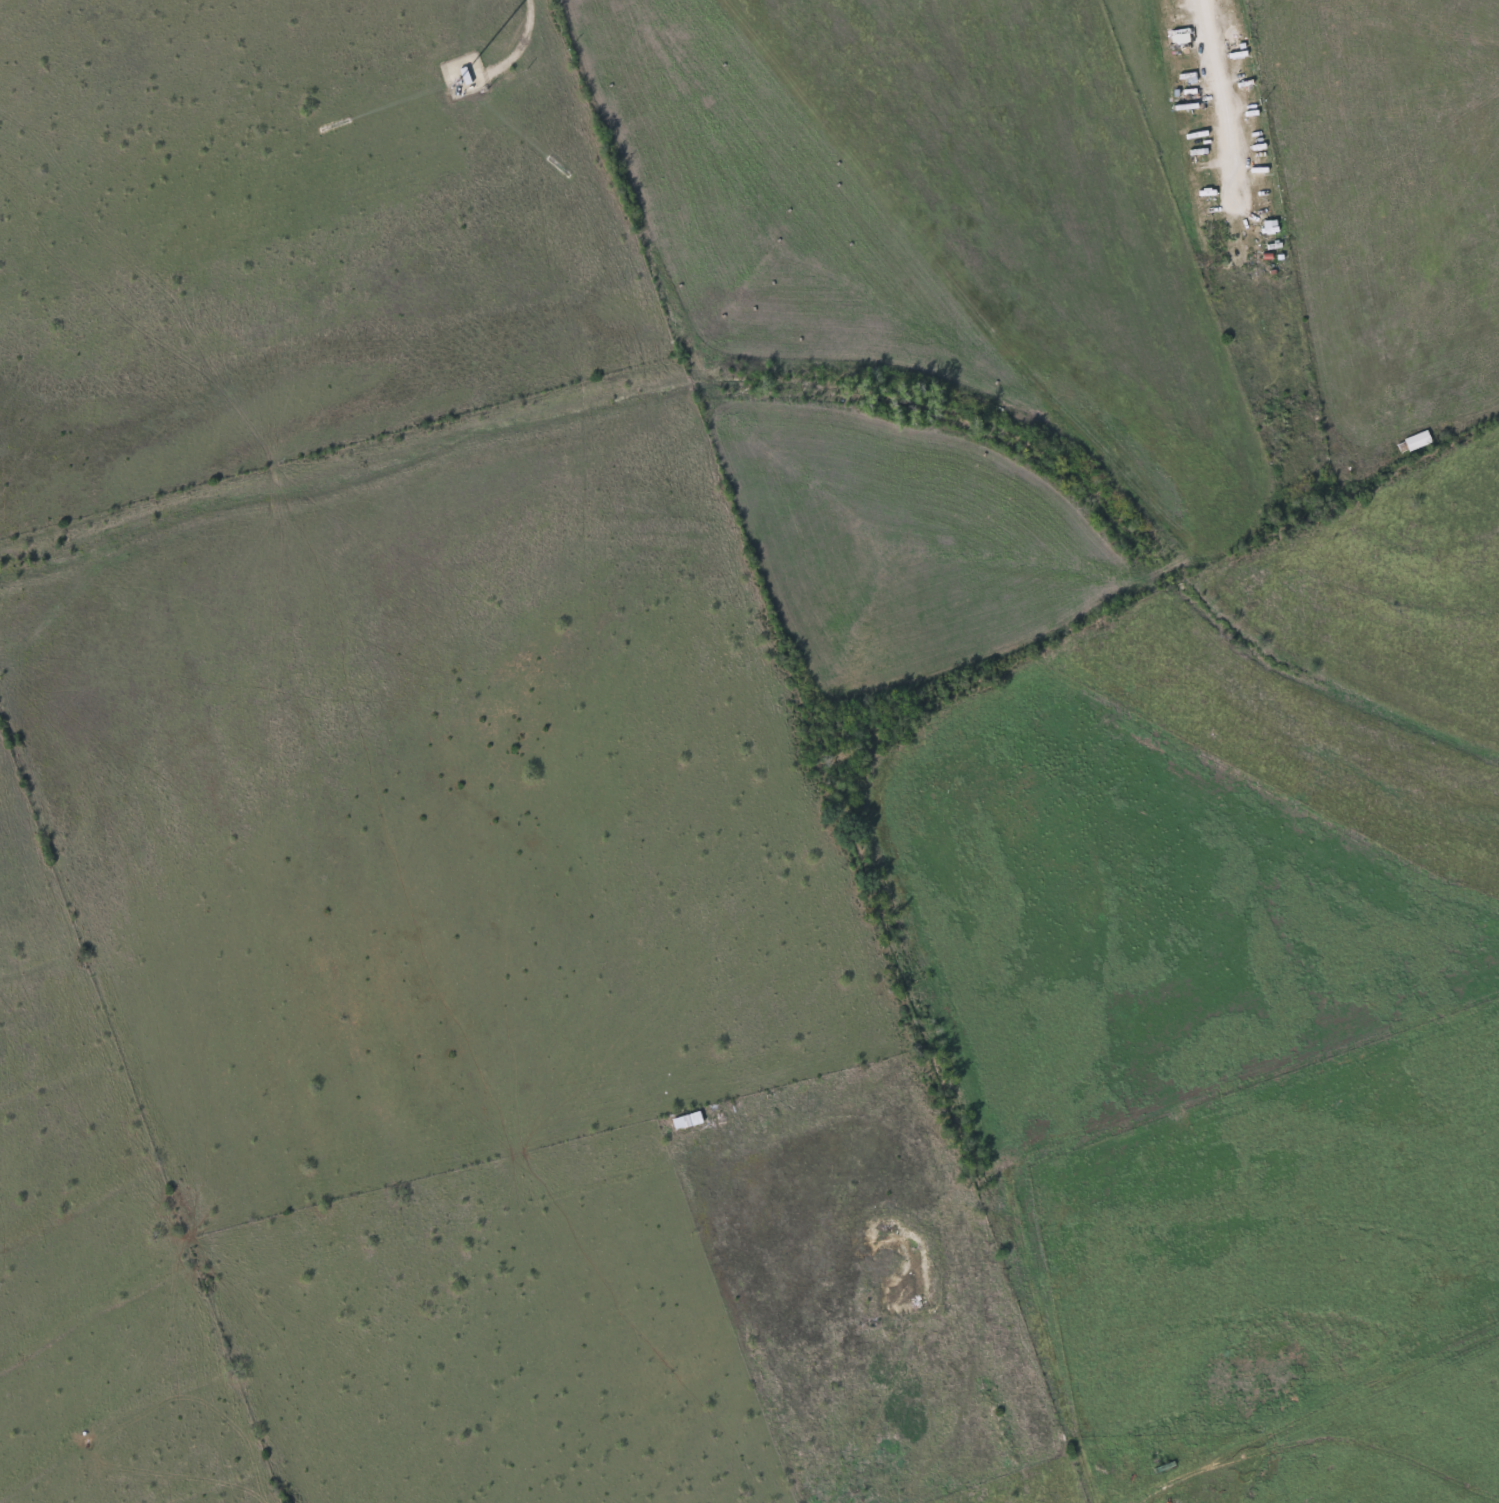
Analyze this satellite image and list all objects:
road: (1214, 76)
building: (1266, 227)
building: (1414, 441)
road: (1168, 1484)

